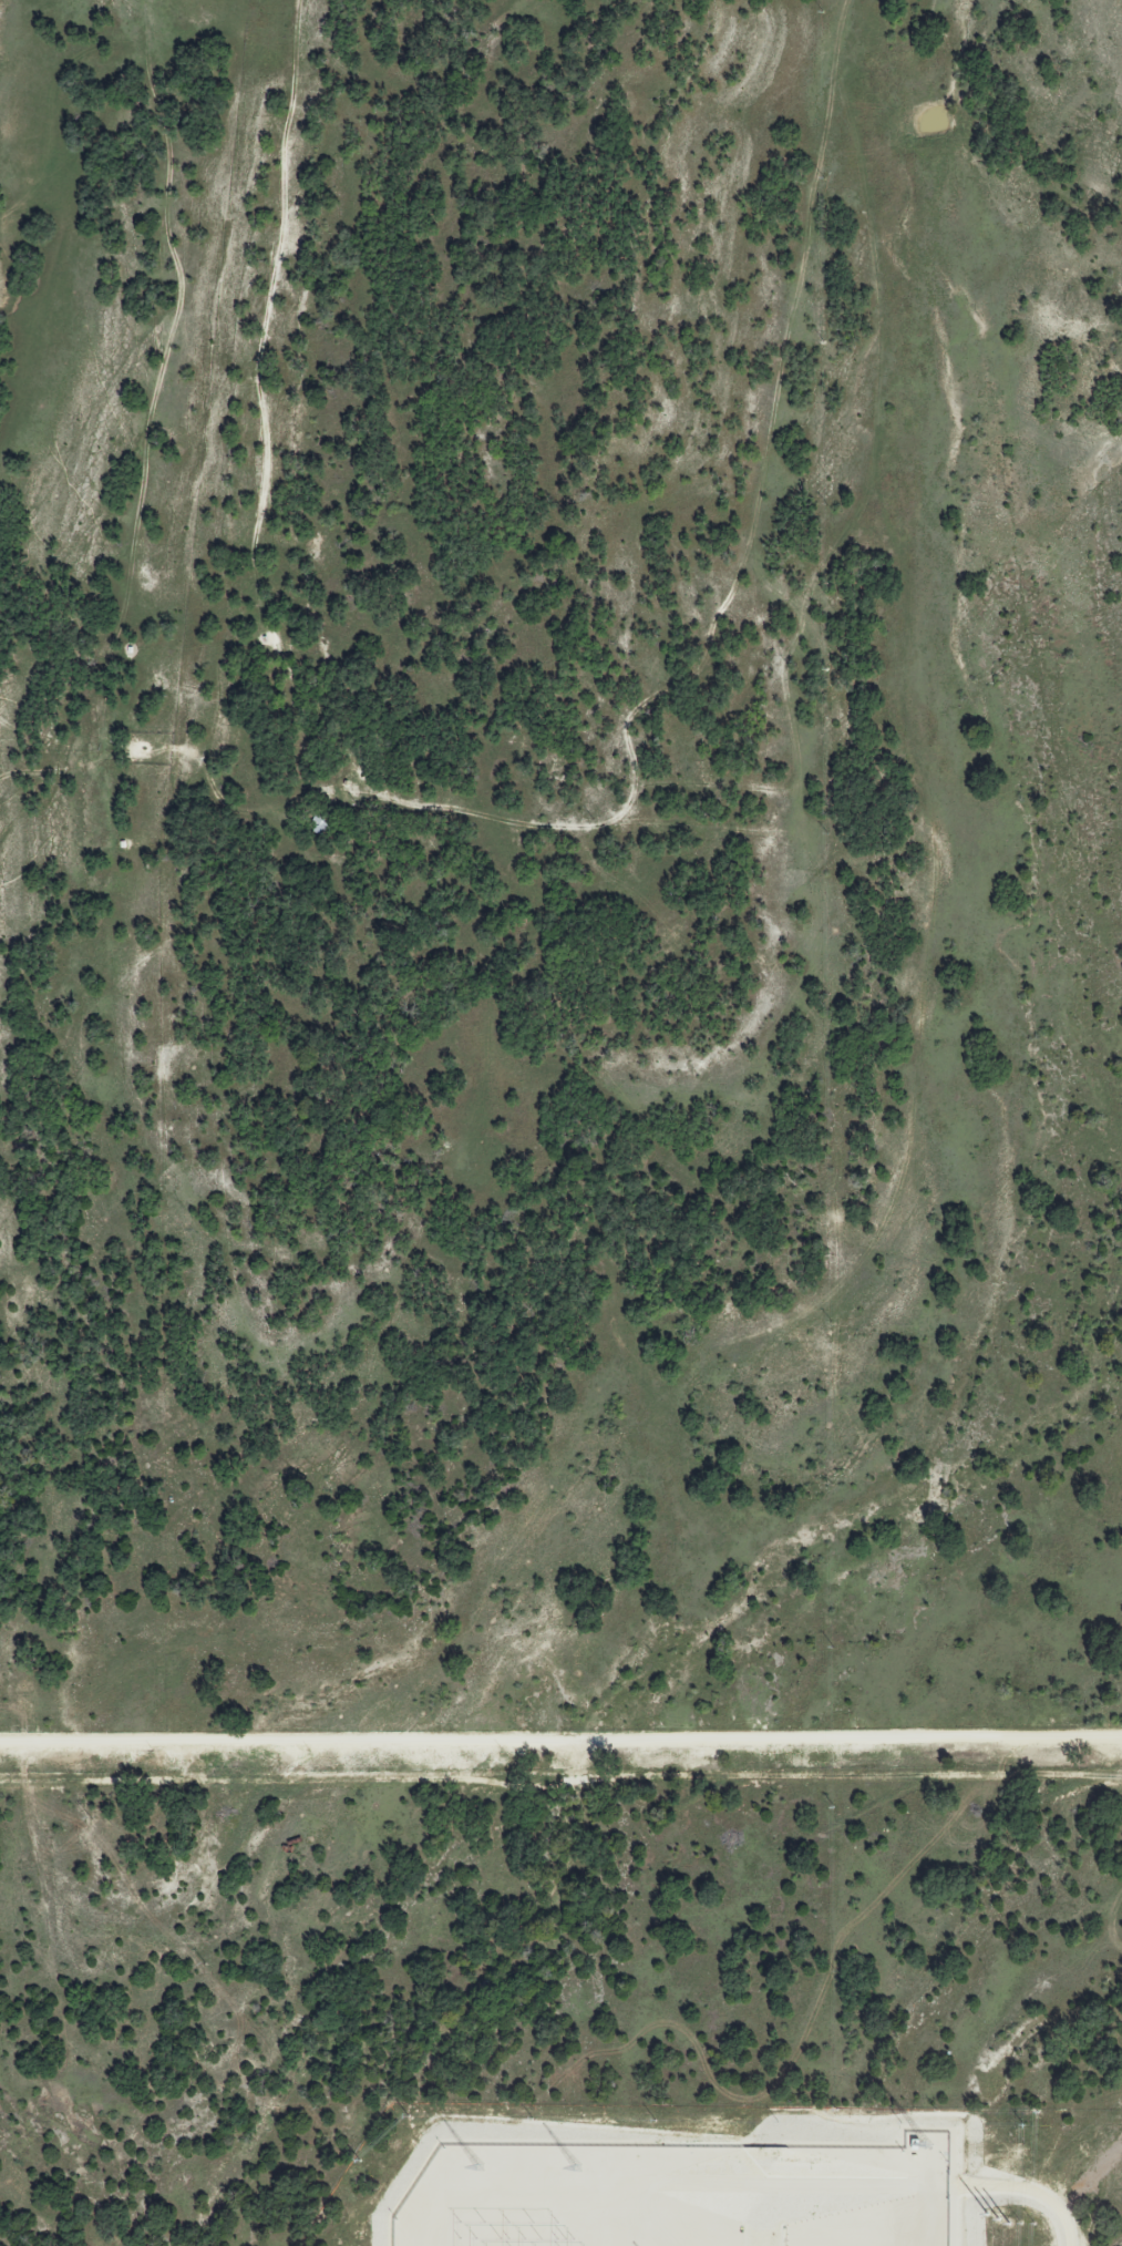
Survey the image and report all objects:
road: (560, 1740)
power substation: (680, 2194)
power tower: (998, 2218)
road: (1075, 2240)

